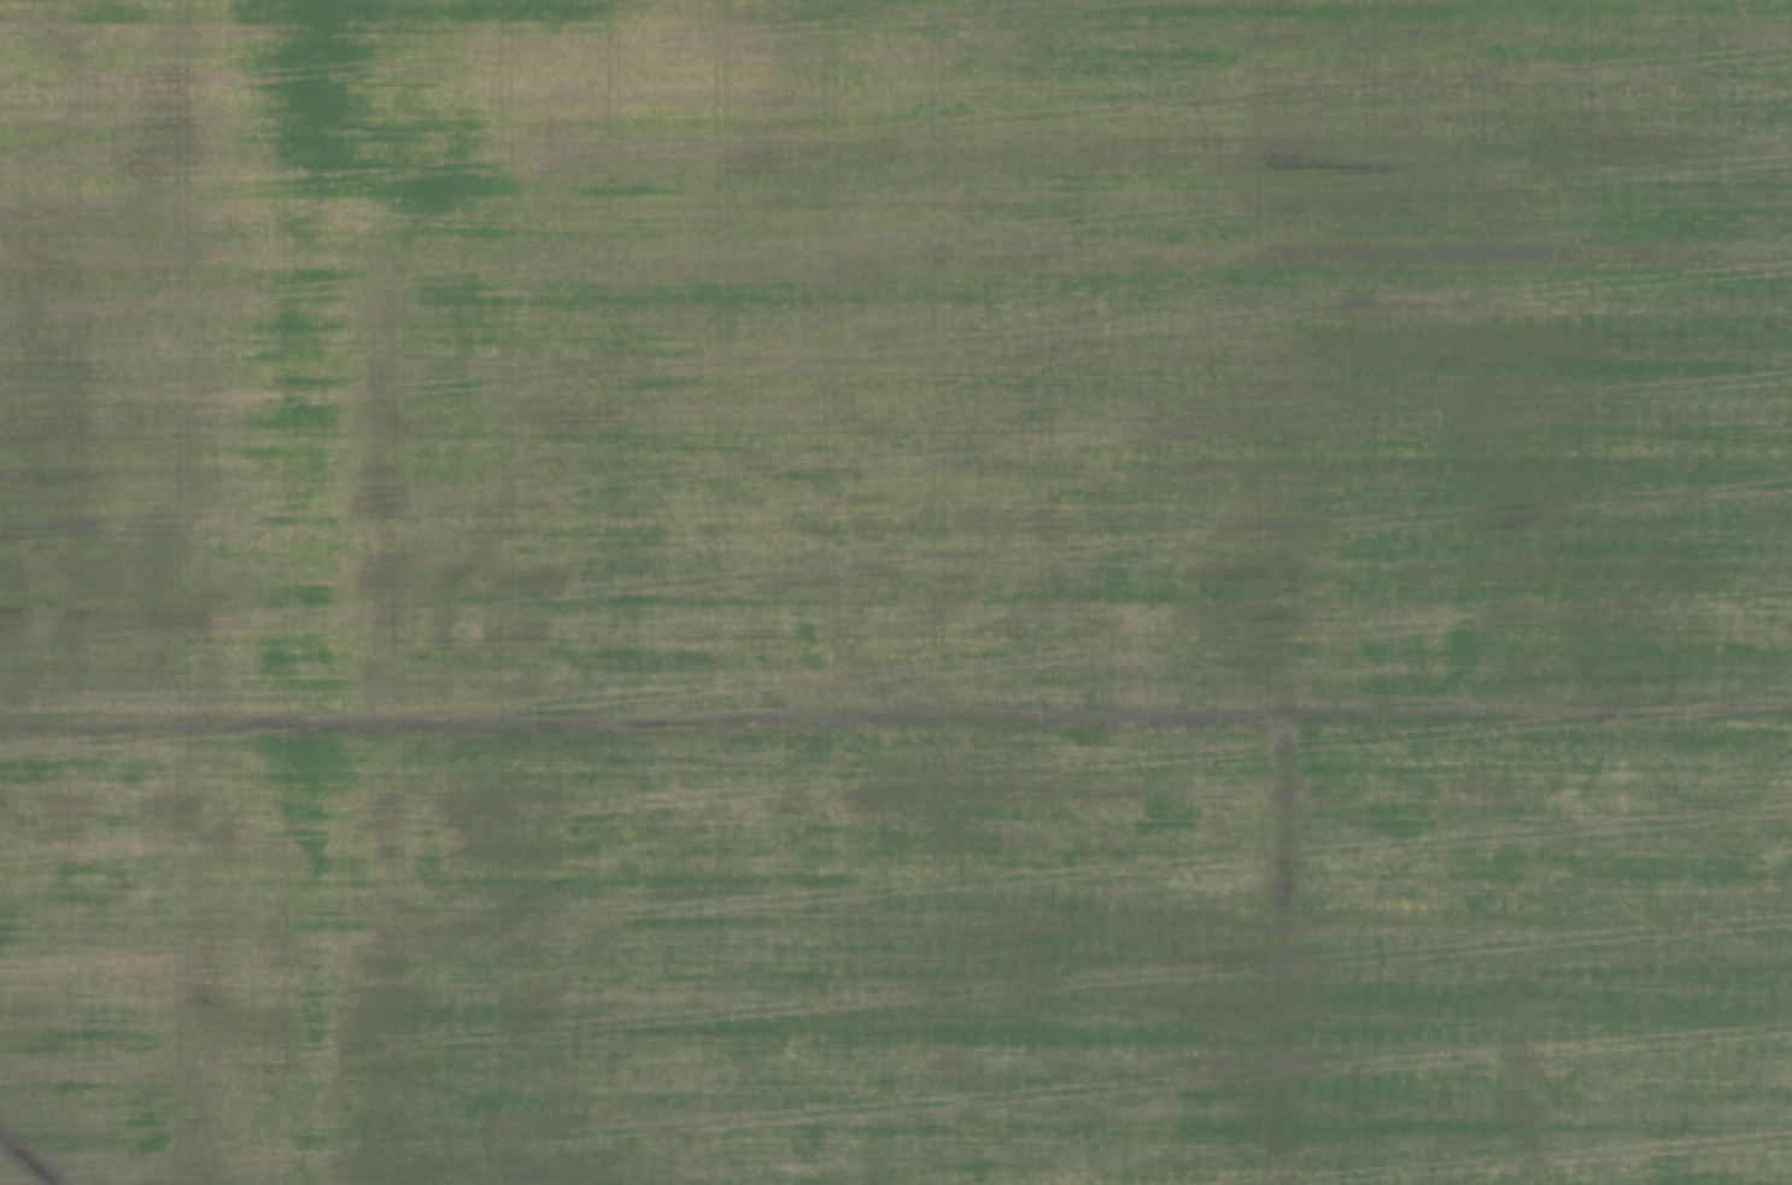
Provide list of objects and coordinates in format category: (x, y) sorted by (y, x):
crop: (896, 592)

